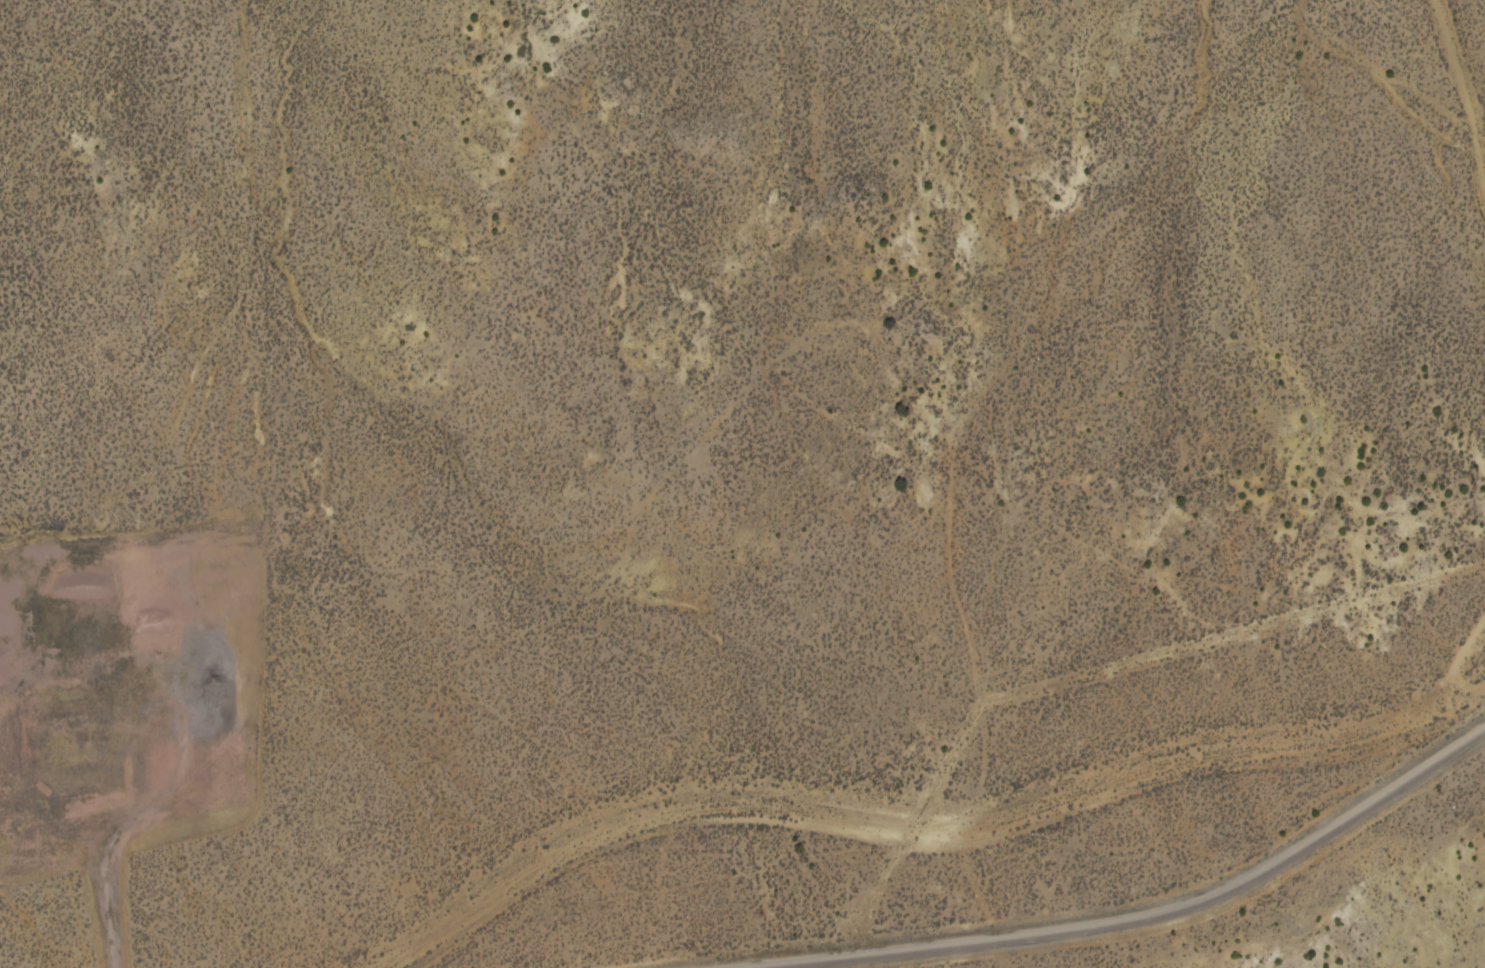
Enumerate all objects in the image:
road: (1459, 56)
road: (1458, 636)
road: (882, 817)
road: (1141, 920)

